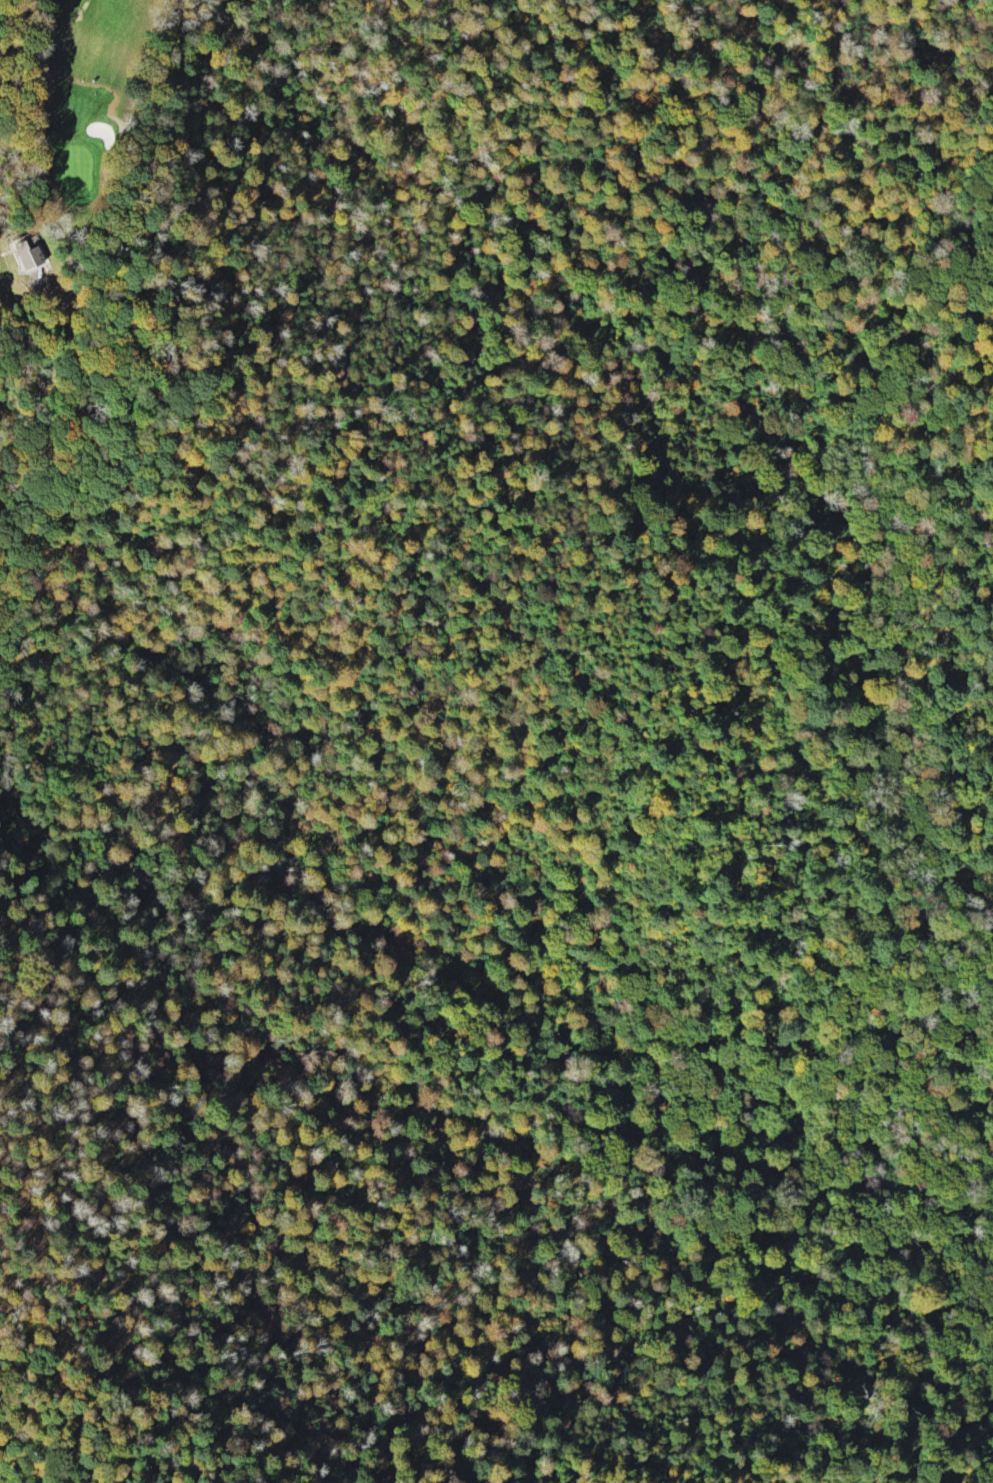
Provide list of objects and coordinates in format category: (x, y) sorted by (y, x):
road: (56, 322)

